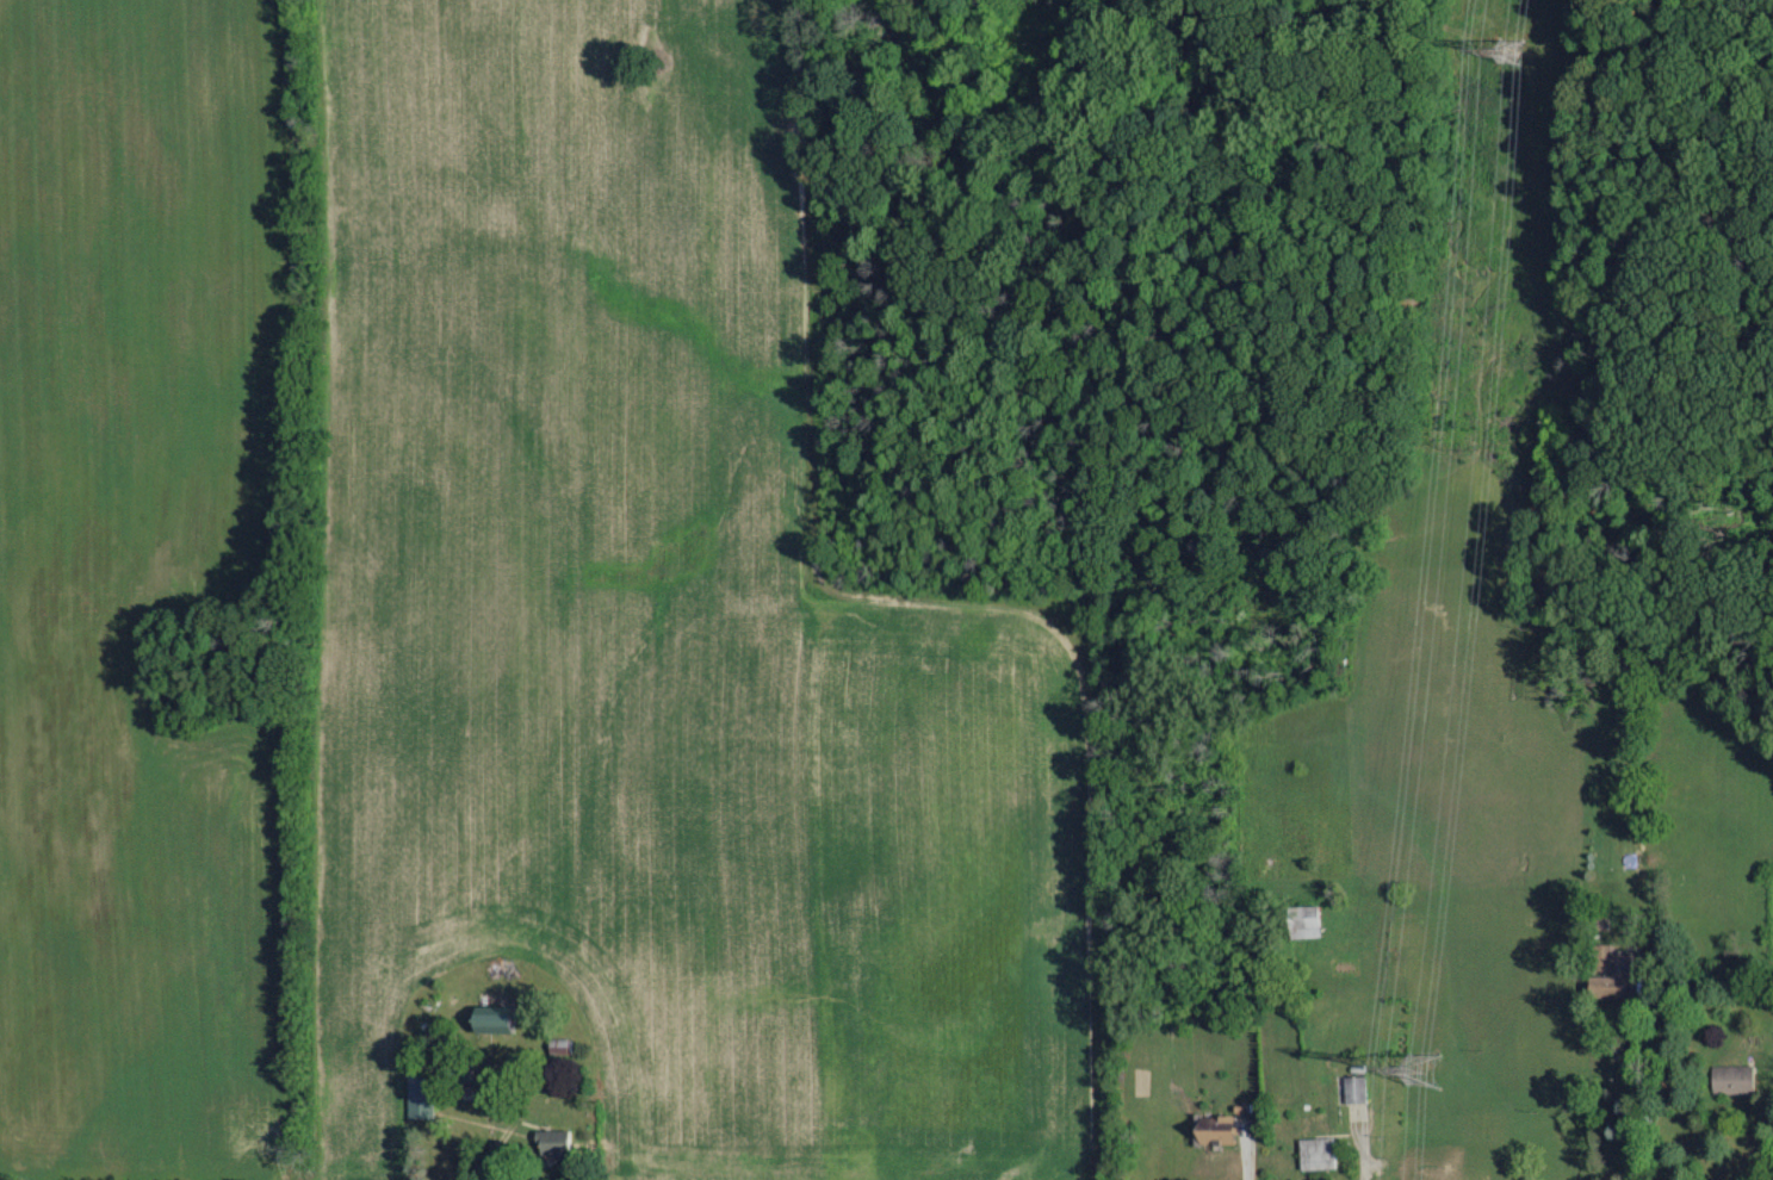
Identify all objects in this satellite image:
power tower: (1515, 49)
building: (1301, 921)
building: (1604, 988)
building: (496, 1019)
road: (513, 1063)
power tower: (1422, 1068)
building: (460, 1070)
building: (1734, 1080)
road: (1638, 1085)
building: (1353, 1089)
building: (461, 1093)
building: (422, 1097)
building: (1213, 1130)
building: (556, 1143)
building: (1315, 1153)
road: (495, 1166)

